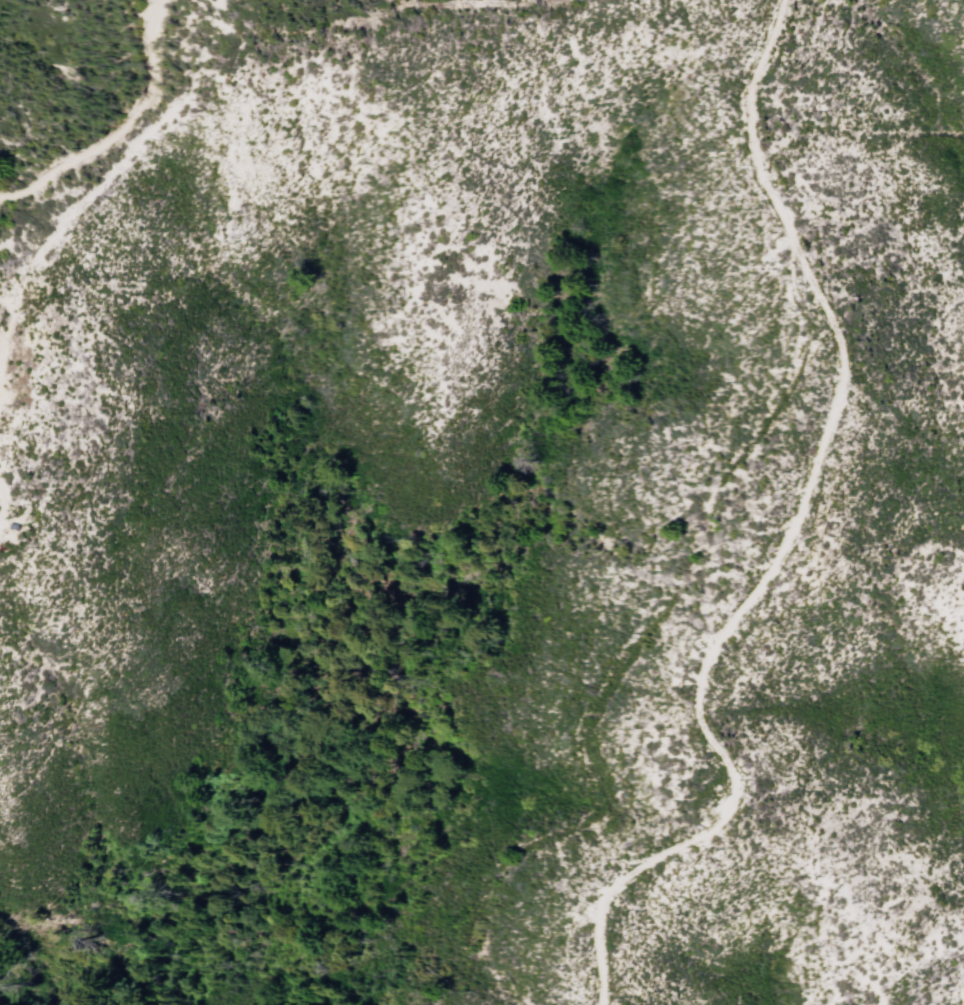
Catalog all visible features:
road: (560, 1)
road: (771, 22)
road: (198, 76)
road: (120, 129)
road: (822, 454)
road: (5, 507)
road: (613, 891)

